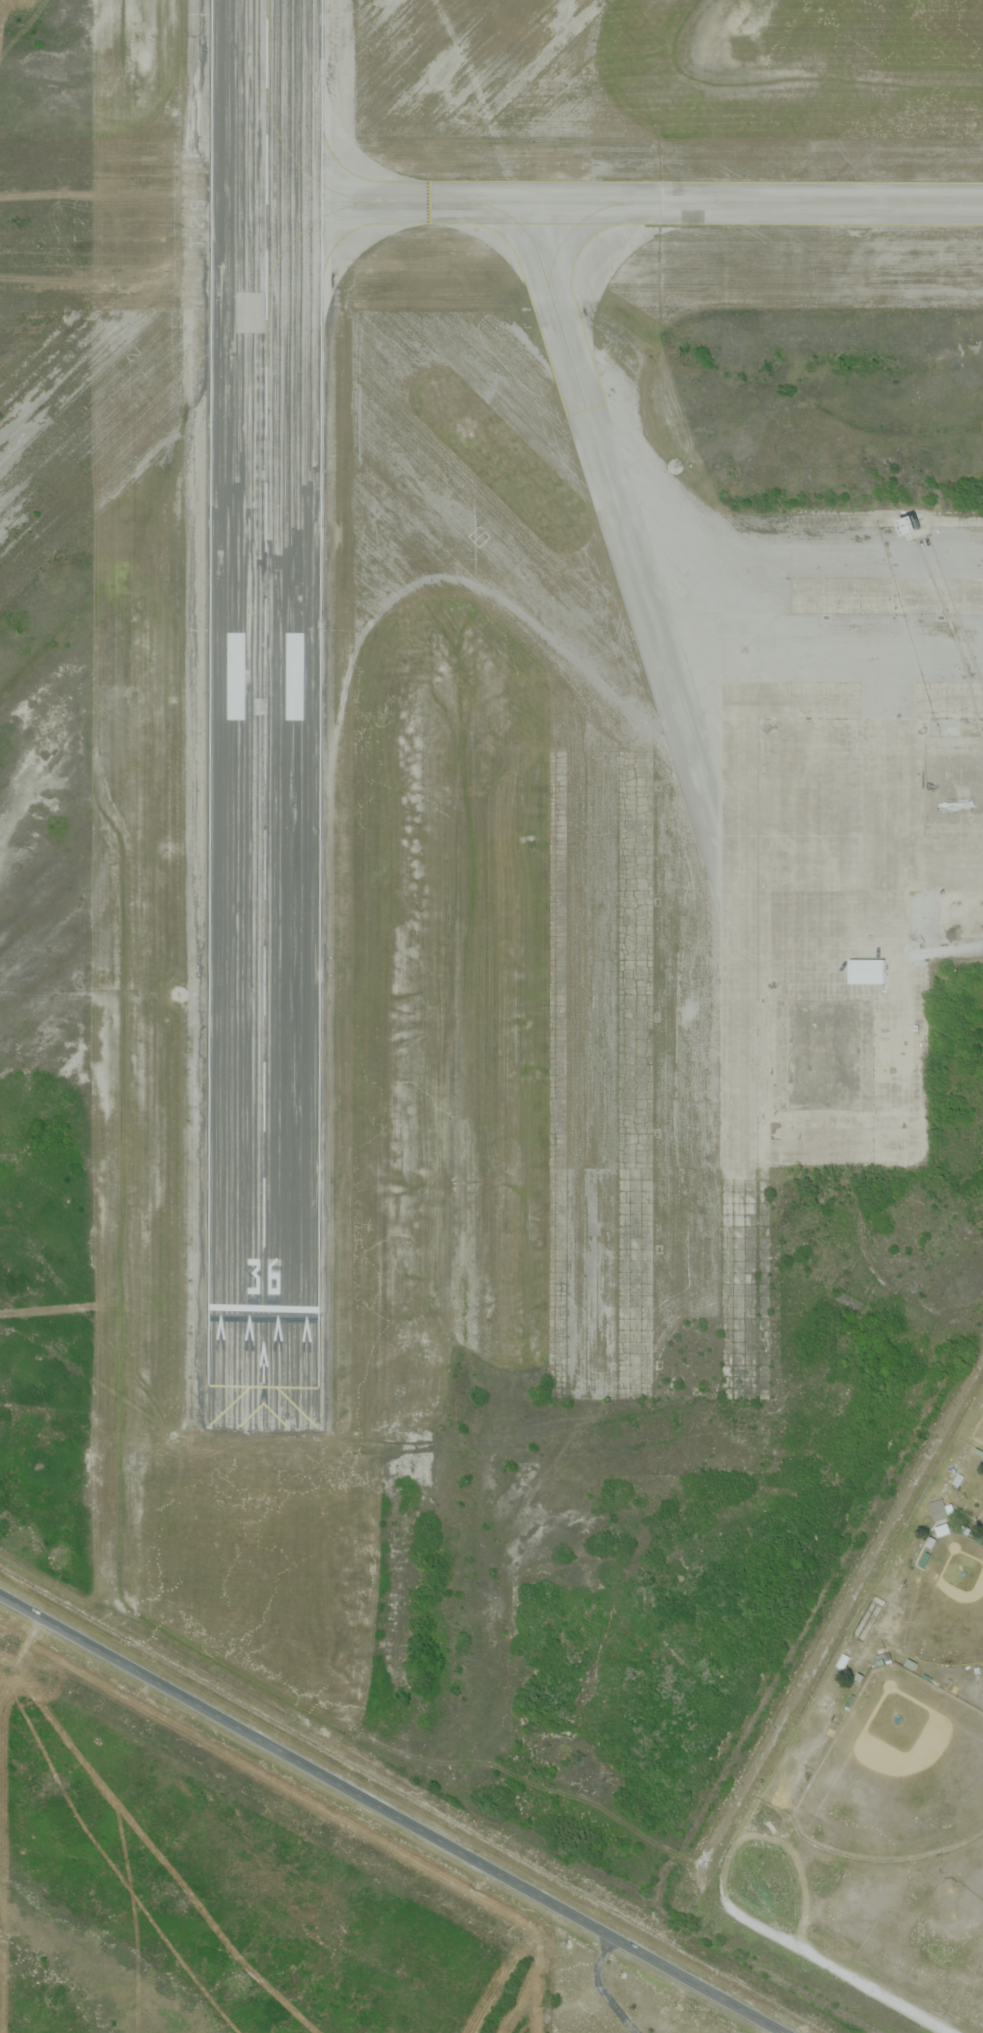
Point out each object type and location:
airport taxiway: (624, 201)
airport taxiway: (620, 518)
building: (913, 526)
airport runway: (265, 655)
airport apron: (845, 822)
airport: (491, 868)
road: (946, 953)
building: (867, 971)
building: (943, 1509)
road: (390, 1814)
road: (842, 1972)

